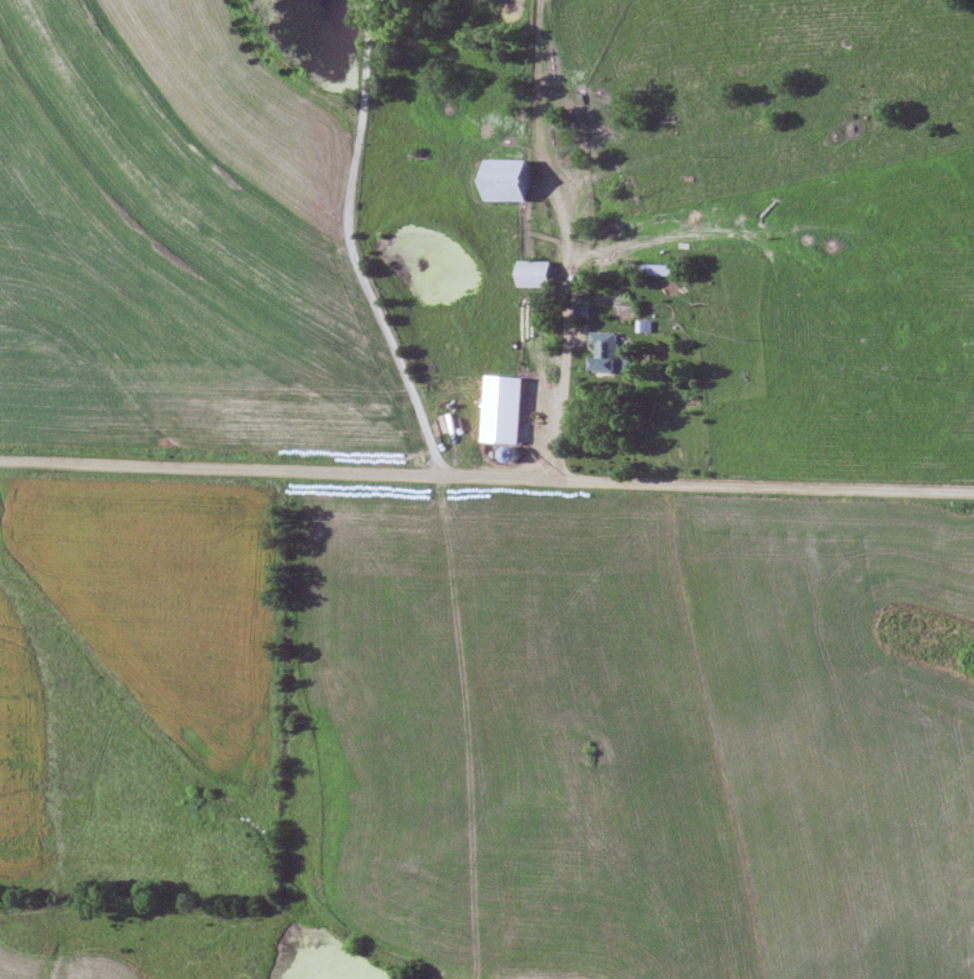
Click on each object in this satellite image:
building: (514, 181)
road: (346, 249)
building: (660, 271)
building: (538, 275)
building: (612, 355)
road: (565, 378)
building: (509, 410)
road: (487, 481)
crop: (143, 687)

